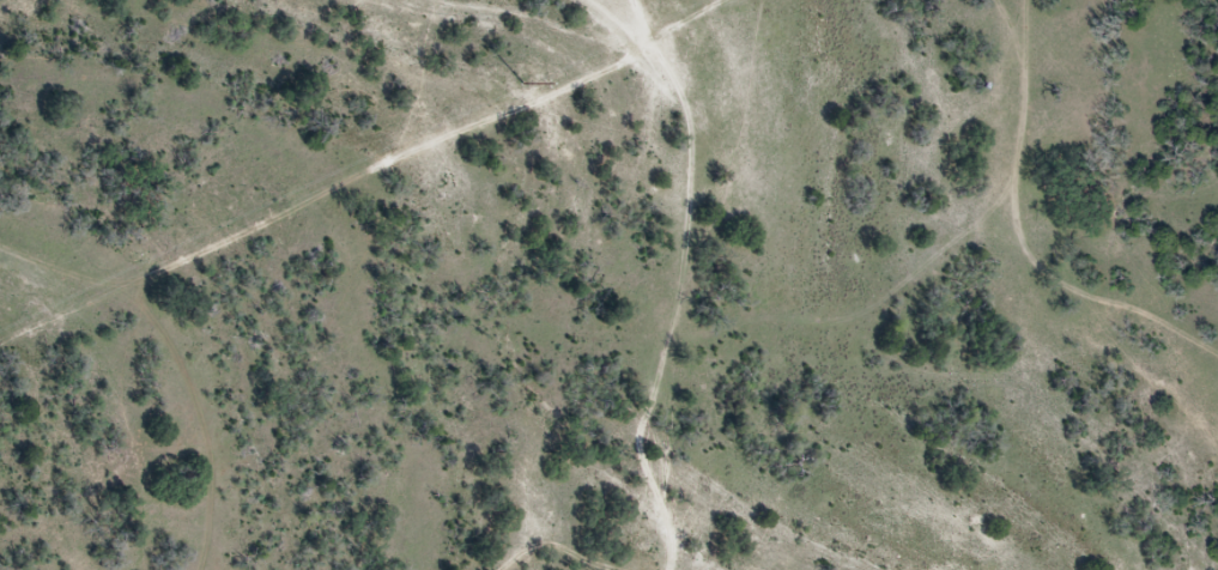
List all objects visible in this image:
power tower: (525, 84)

